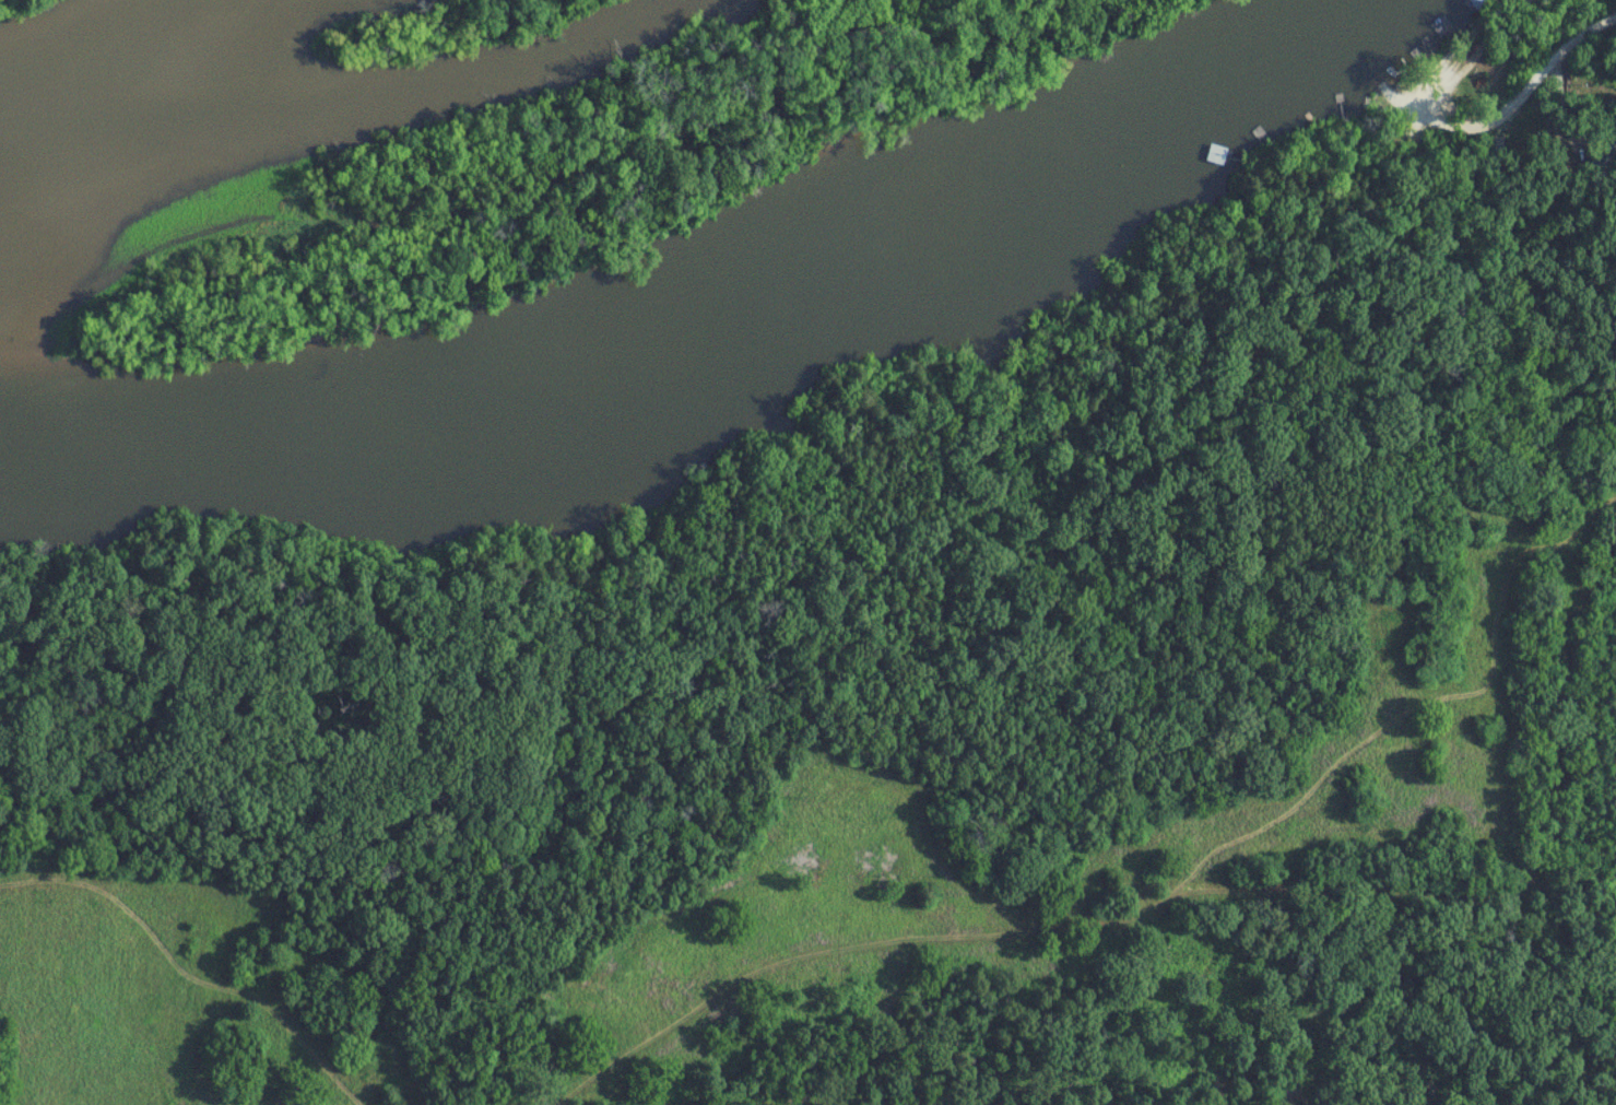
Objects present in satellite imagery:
road: (1581, 44)
road: (1570, 108)
road: (1494, 132)
river: (715, 321)

